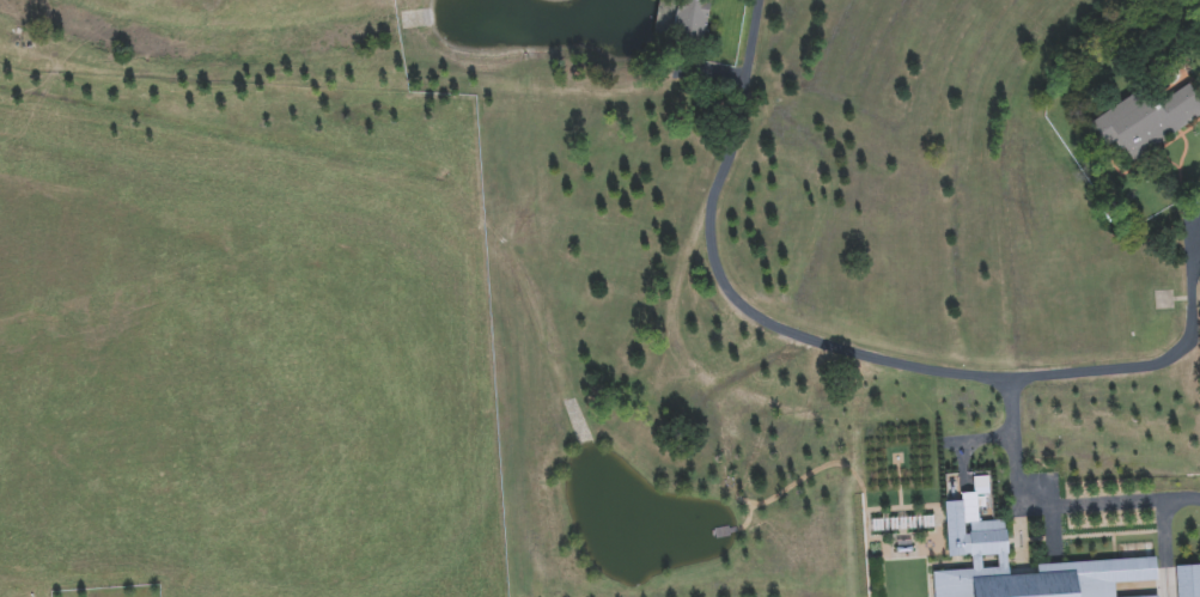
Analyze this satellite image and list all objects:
building: (683, 19)
building: (1145, 121)
road: (737, 291)
road: (1153, 371)
fountain: (897, 459)
road: (832, 465)
road: (899, 487)
road: (1054, 505)
road: (902, 508)
road: (747, 520)
building: (975, 532)
road: (1052, 536)
road: (1083, 538)
road: (1012, 543)
road: (1114, 549)
road: (1163, 549)
road: (961, 565)

